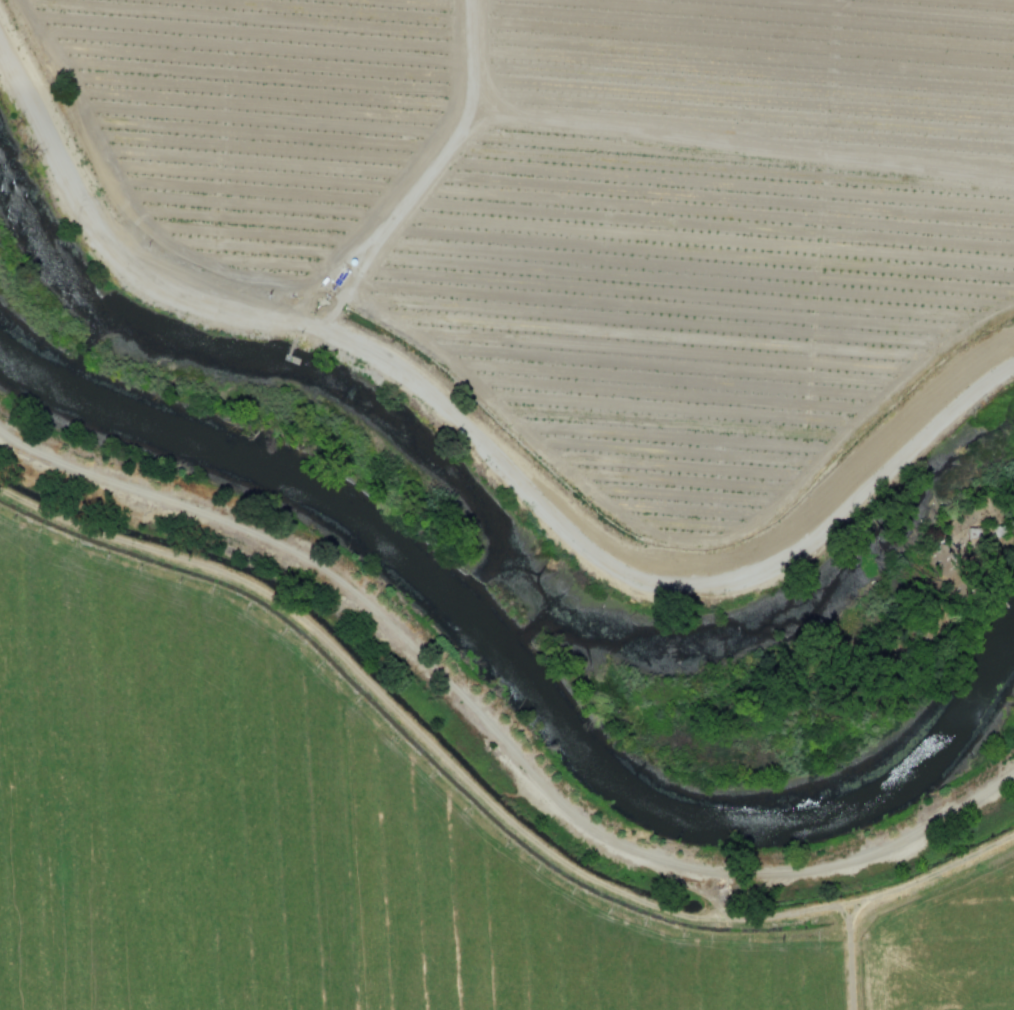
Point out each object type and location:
road: (482, 428)
river: (501, 639)
road: (494, 741)
road: (492, 782)

